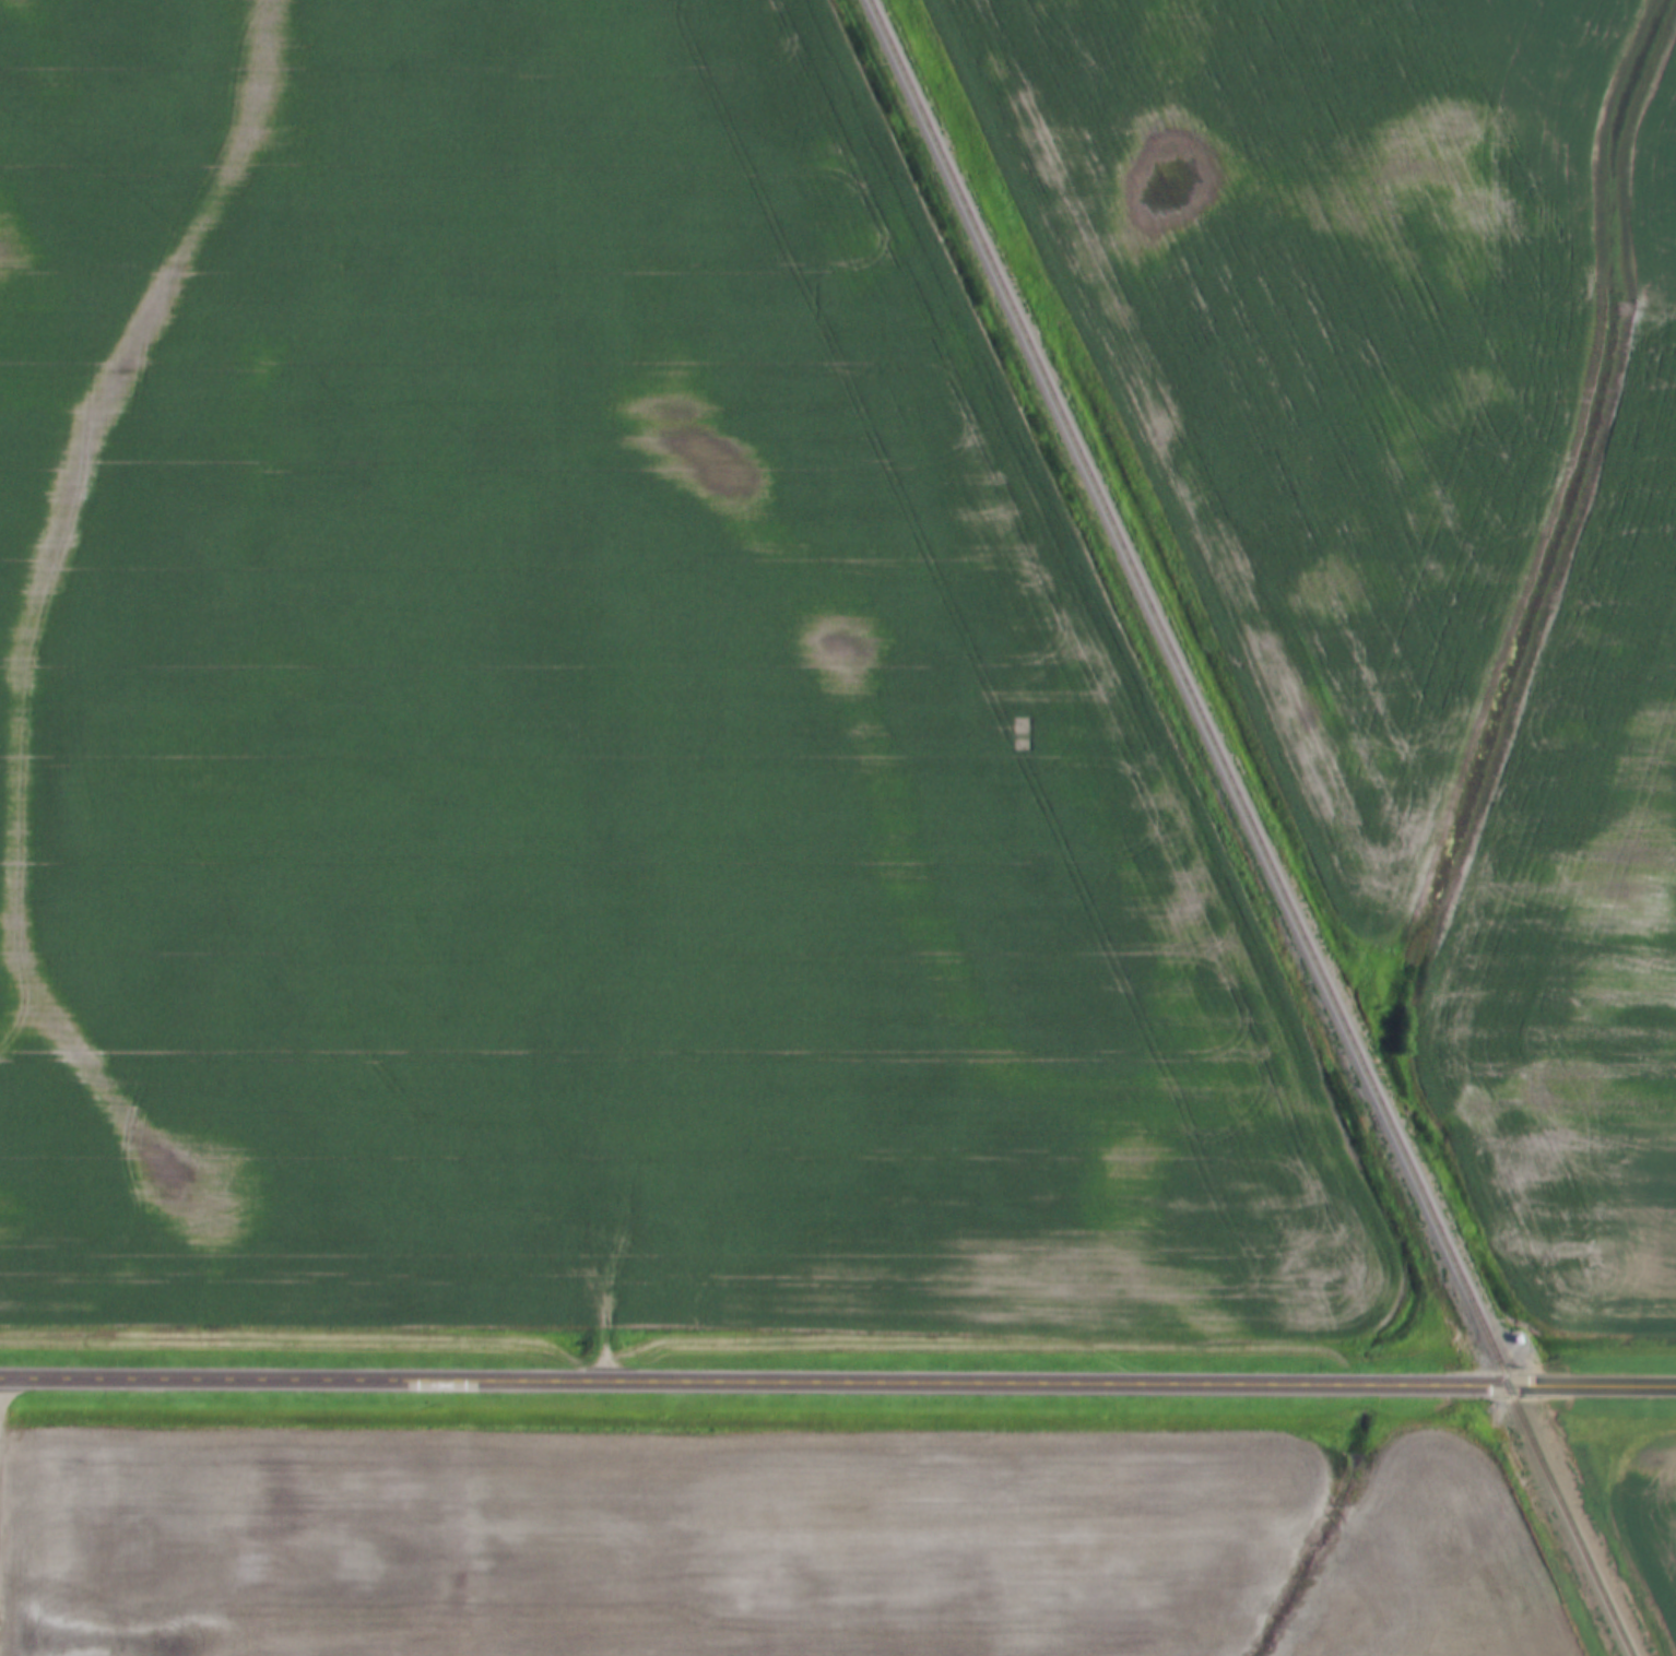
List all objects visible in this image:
railway: (1256, 827)
road: (837, 1387)

